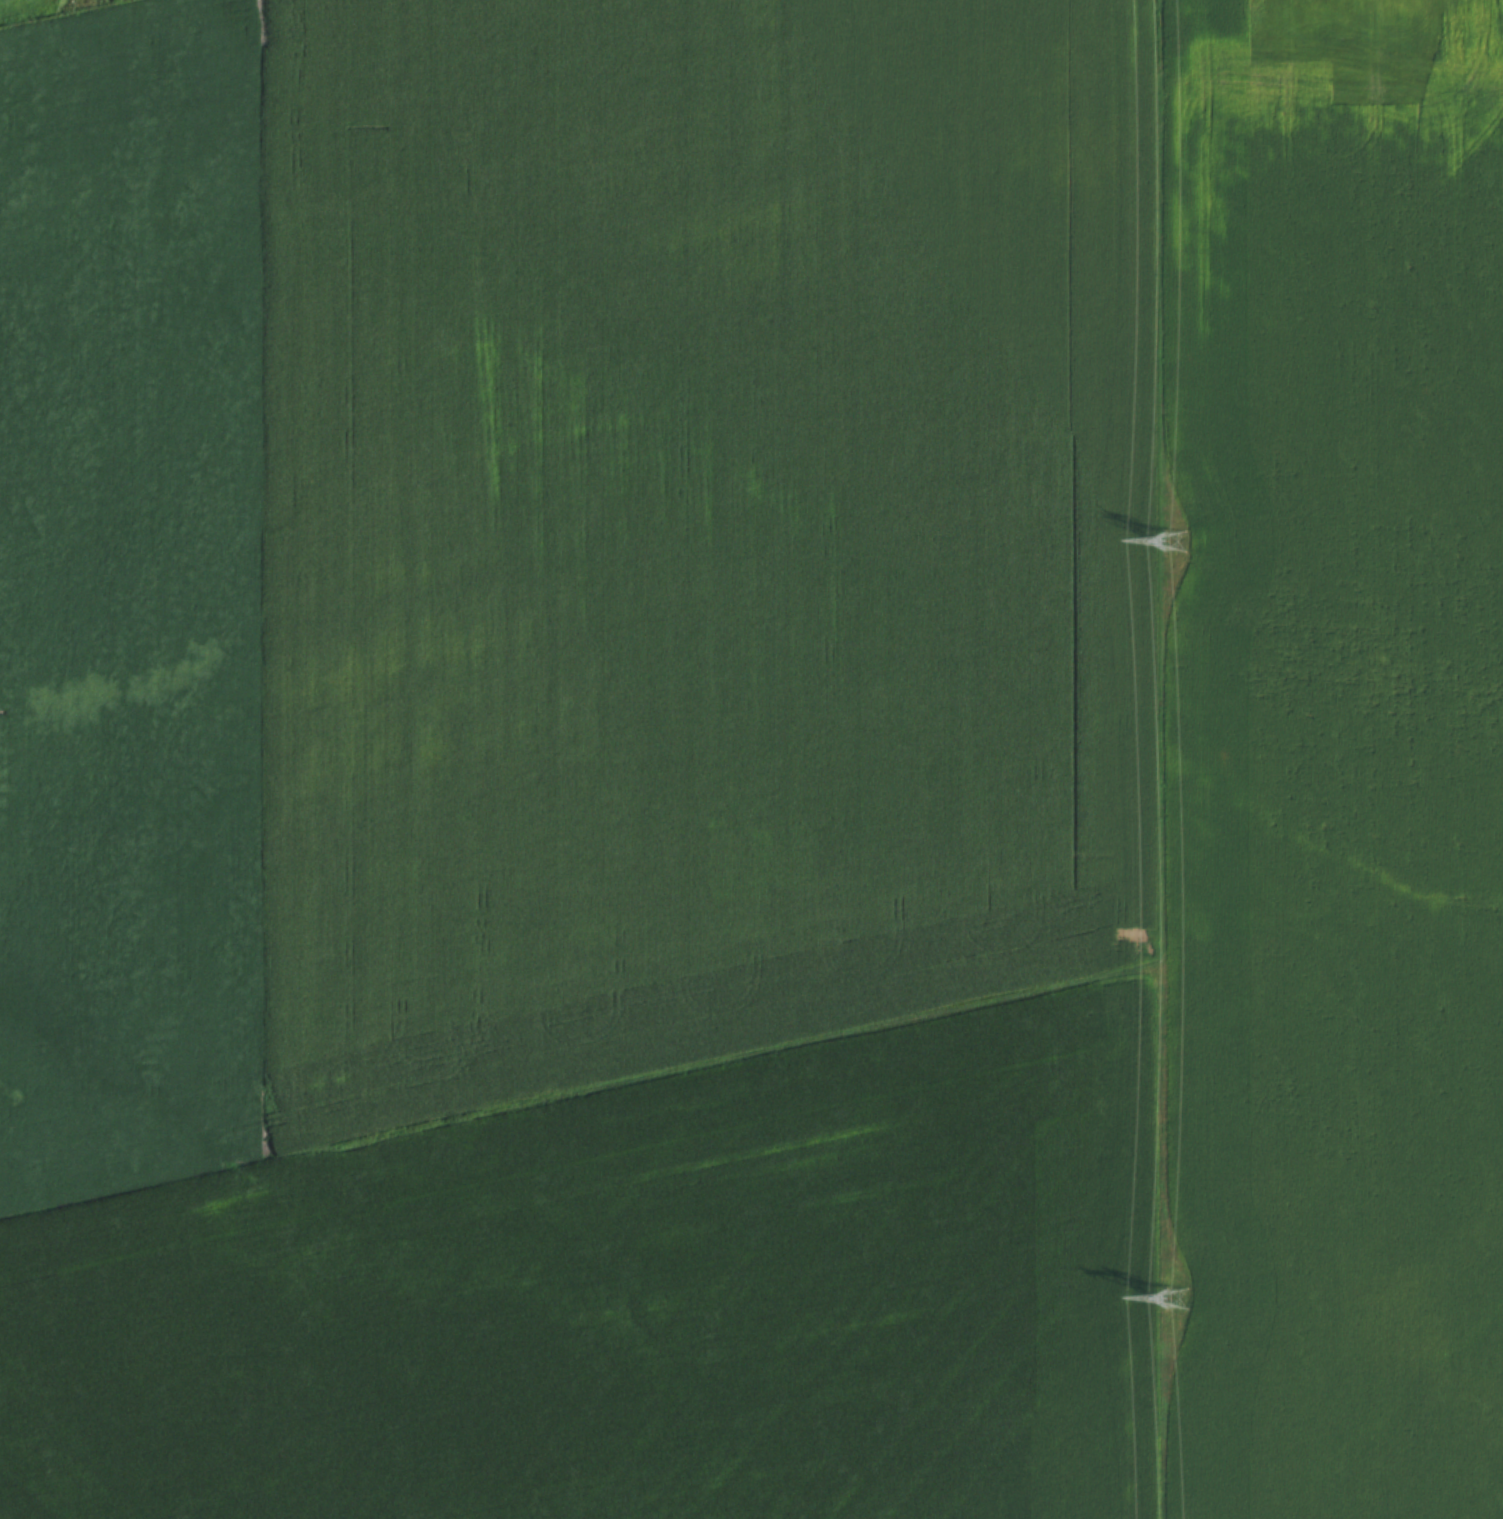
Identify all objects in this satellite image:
power tower: (1176, 544)
power tower: (1183, 1303)

